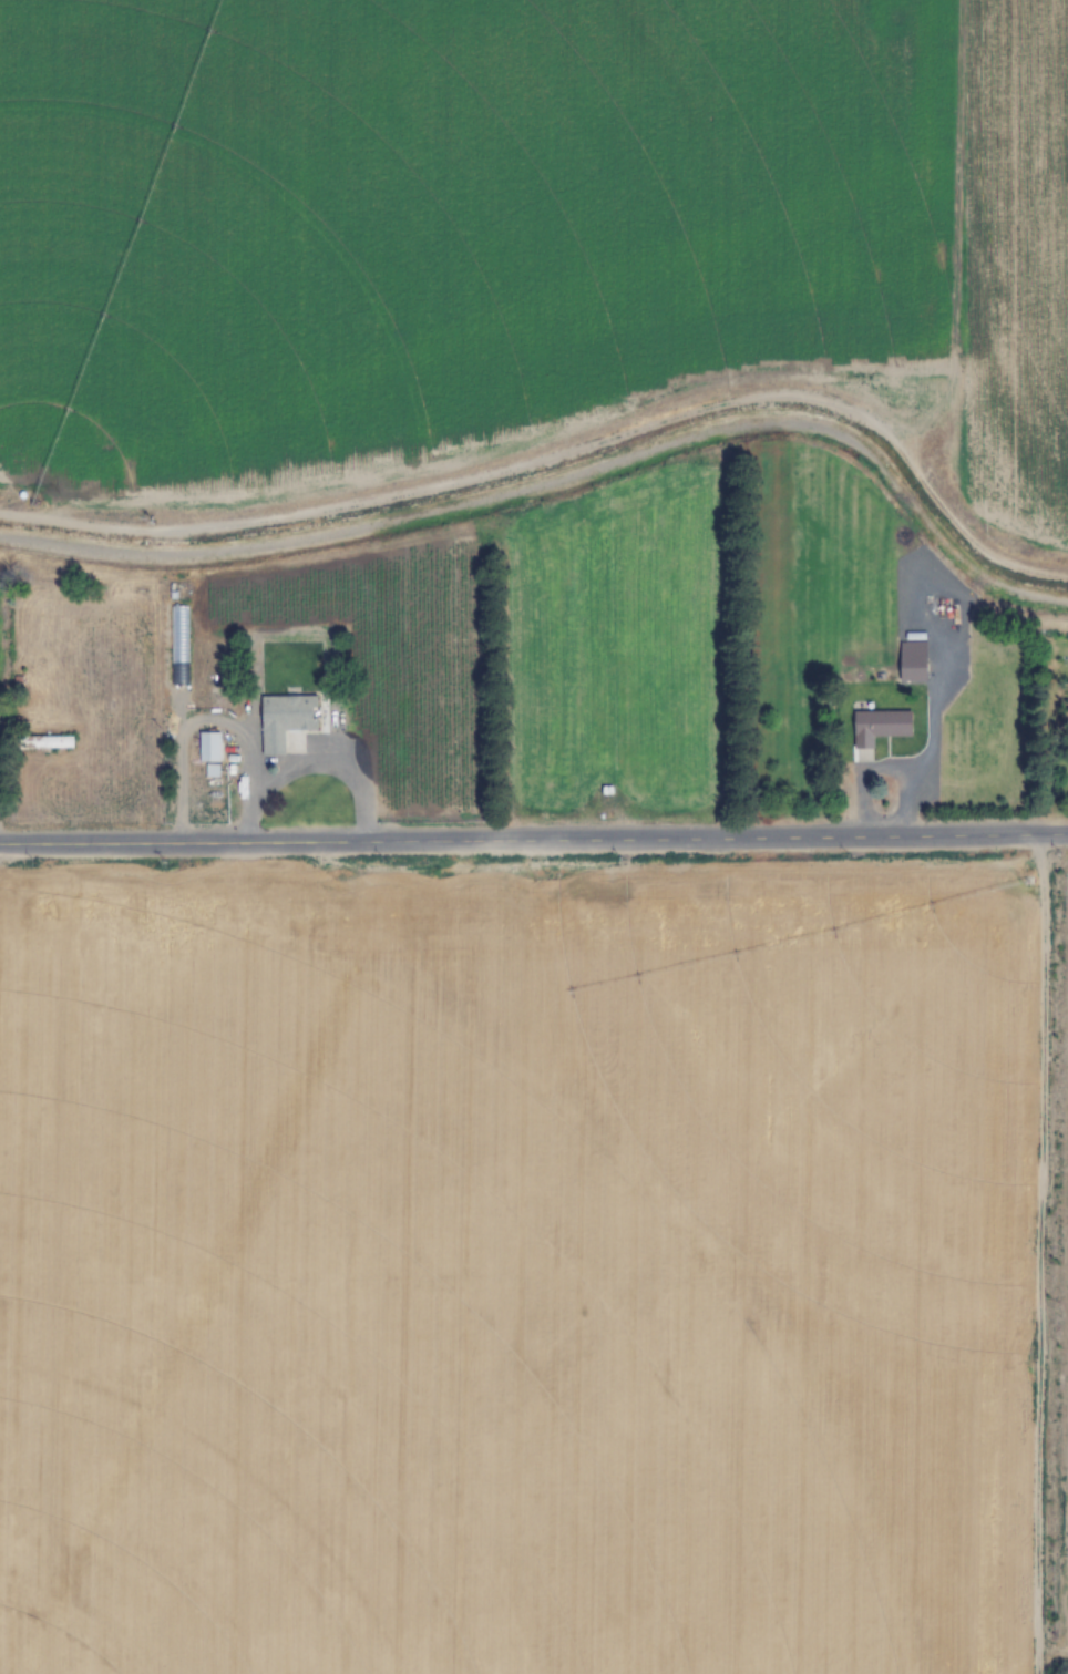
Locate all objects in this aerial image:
building: (179, 644)
building: (913, 664)
building: (286, 719)
building: (880, 726)
building: (44, 741)
building: (209, 747)
road: (533, 819)
road: (29, 1188)

